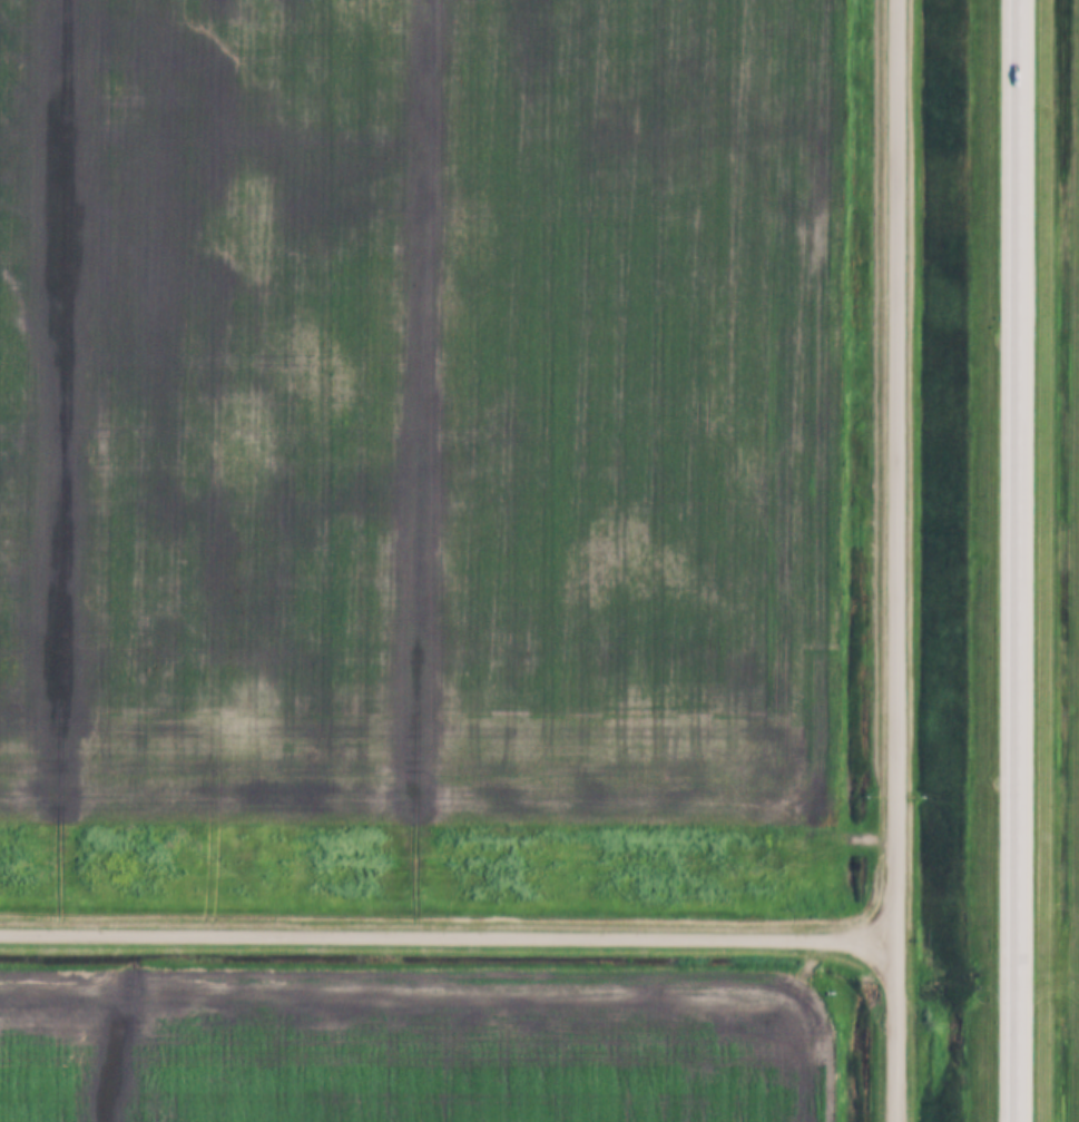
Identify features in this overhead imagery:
crop: (414, 410)
road: (894, 560)
road: (1018, 561)
road: (447, 935)
crop: (410, 1041)

